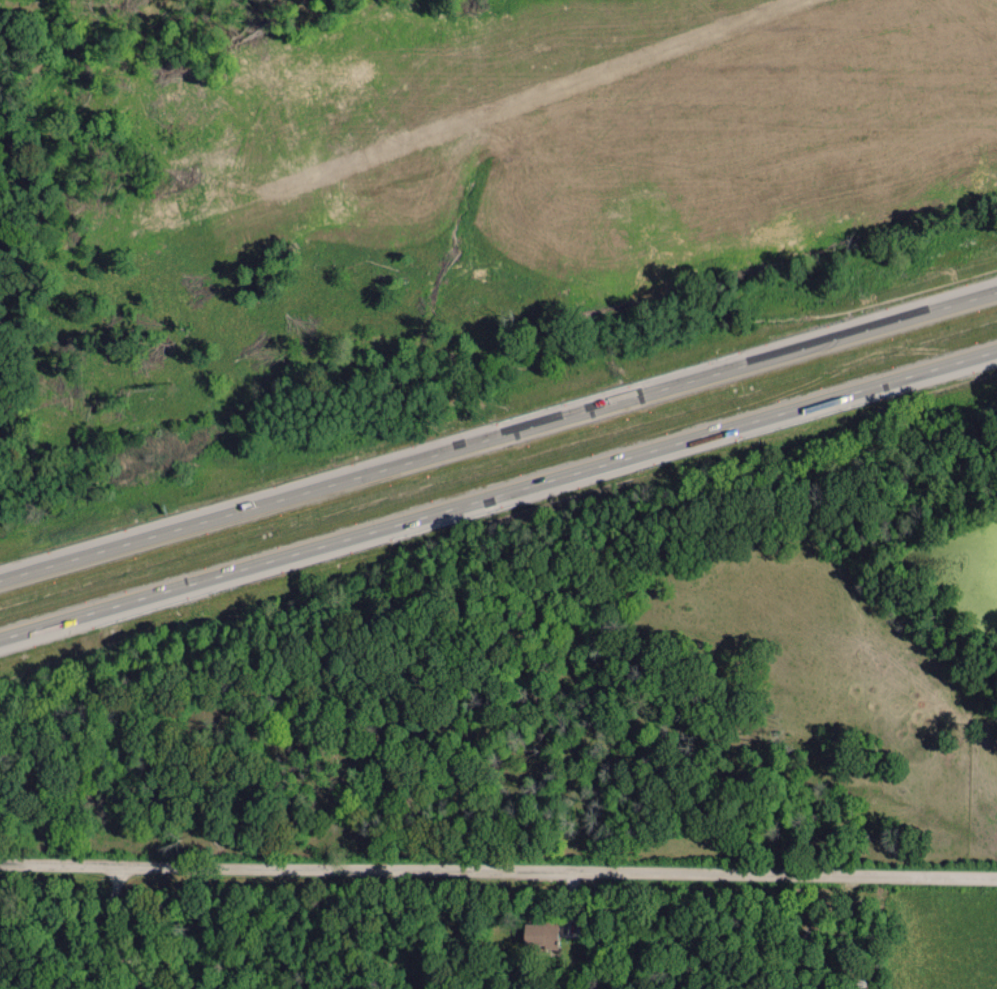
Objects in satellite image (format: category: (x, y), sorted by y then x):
road: (498, 440)
road: (498, 496)
road: (498, 864)
road: (116, 924)
building: (541, 933)

